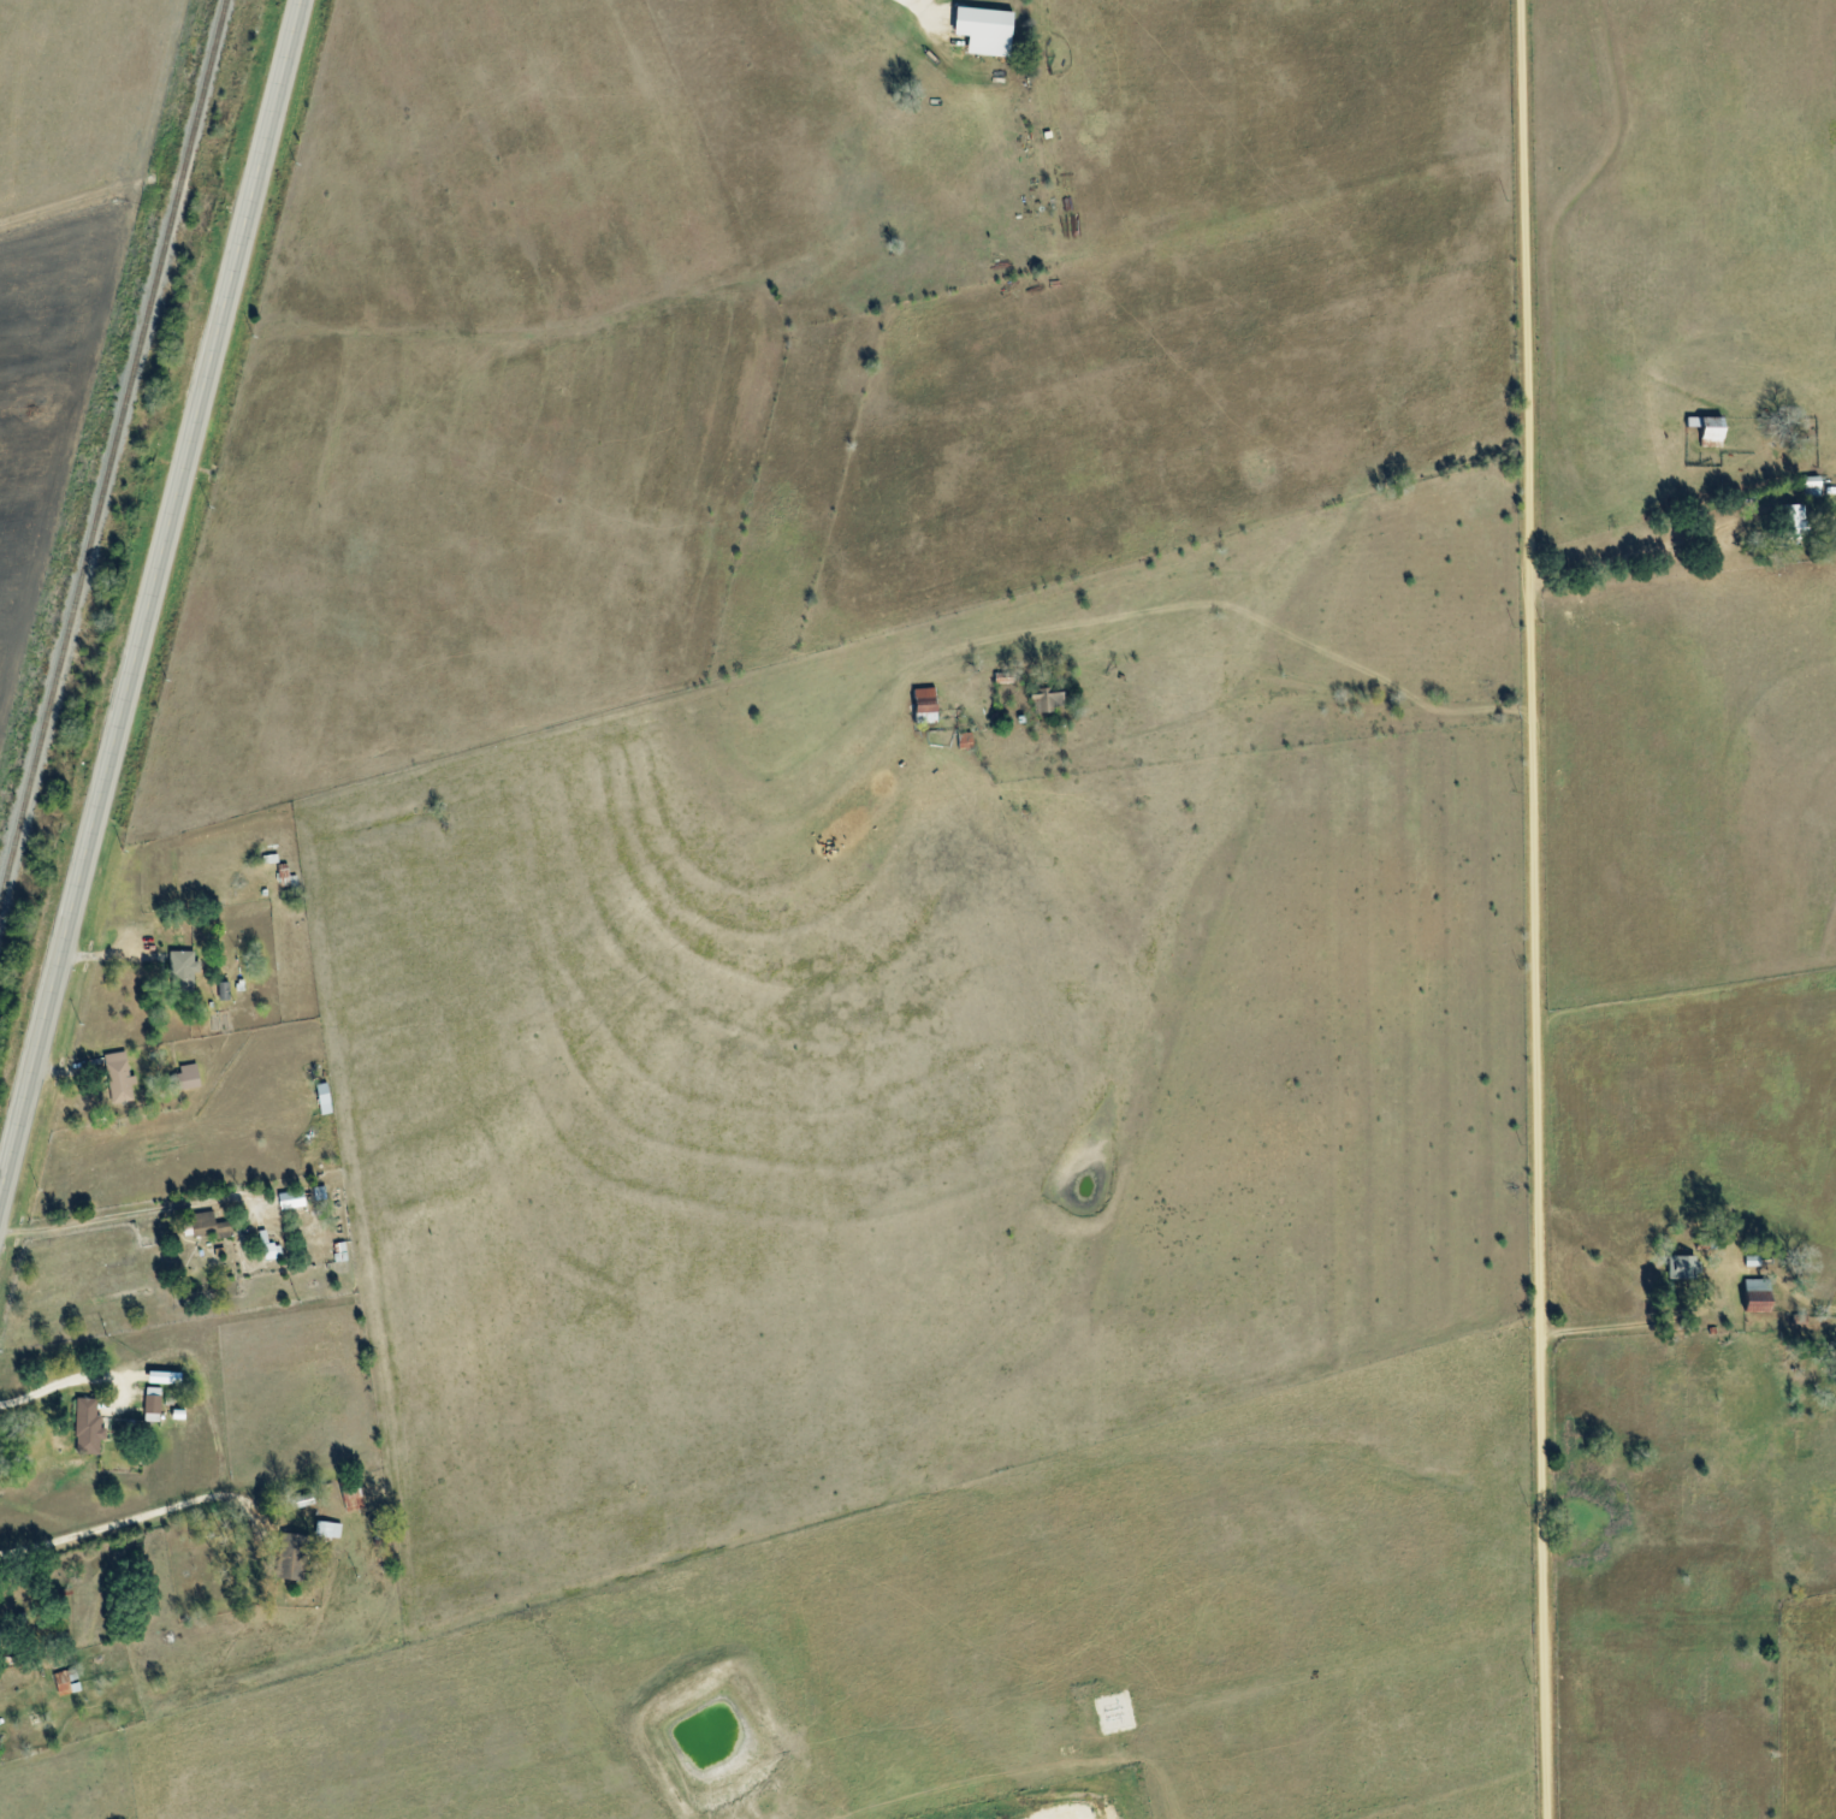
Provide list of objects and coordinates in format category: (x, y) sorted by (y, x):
building: (979, 30)
building: (1704, 427)
railway: (109, 439)
building: (1791, 521)
road: (155, 598)
road: (1268, 691)
building: (1043, 700)
building: (920, 705)
road: (1533, 910)
building: (221, 991)
building: (185, 1077)
building: (117, 1078)
building: (289, 1199)
building: (206, 1226)
building: (268, 1248)
building: (1678, 1268)
building: (1752, 1296)
building: (160, 1377)
building: (150, 1405)
building: (85, 1428)
building: (350, 1500)
building: (326, 1530)
building: (290, 1558)
building: (64, 1682)

